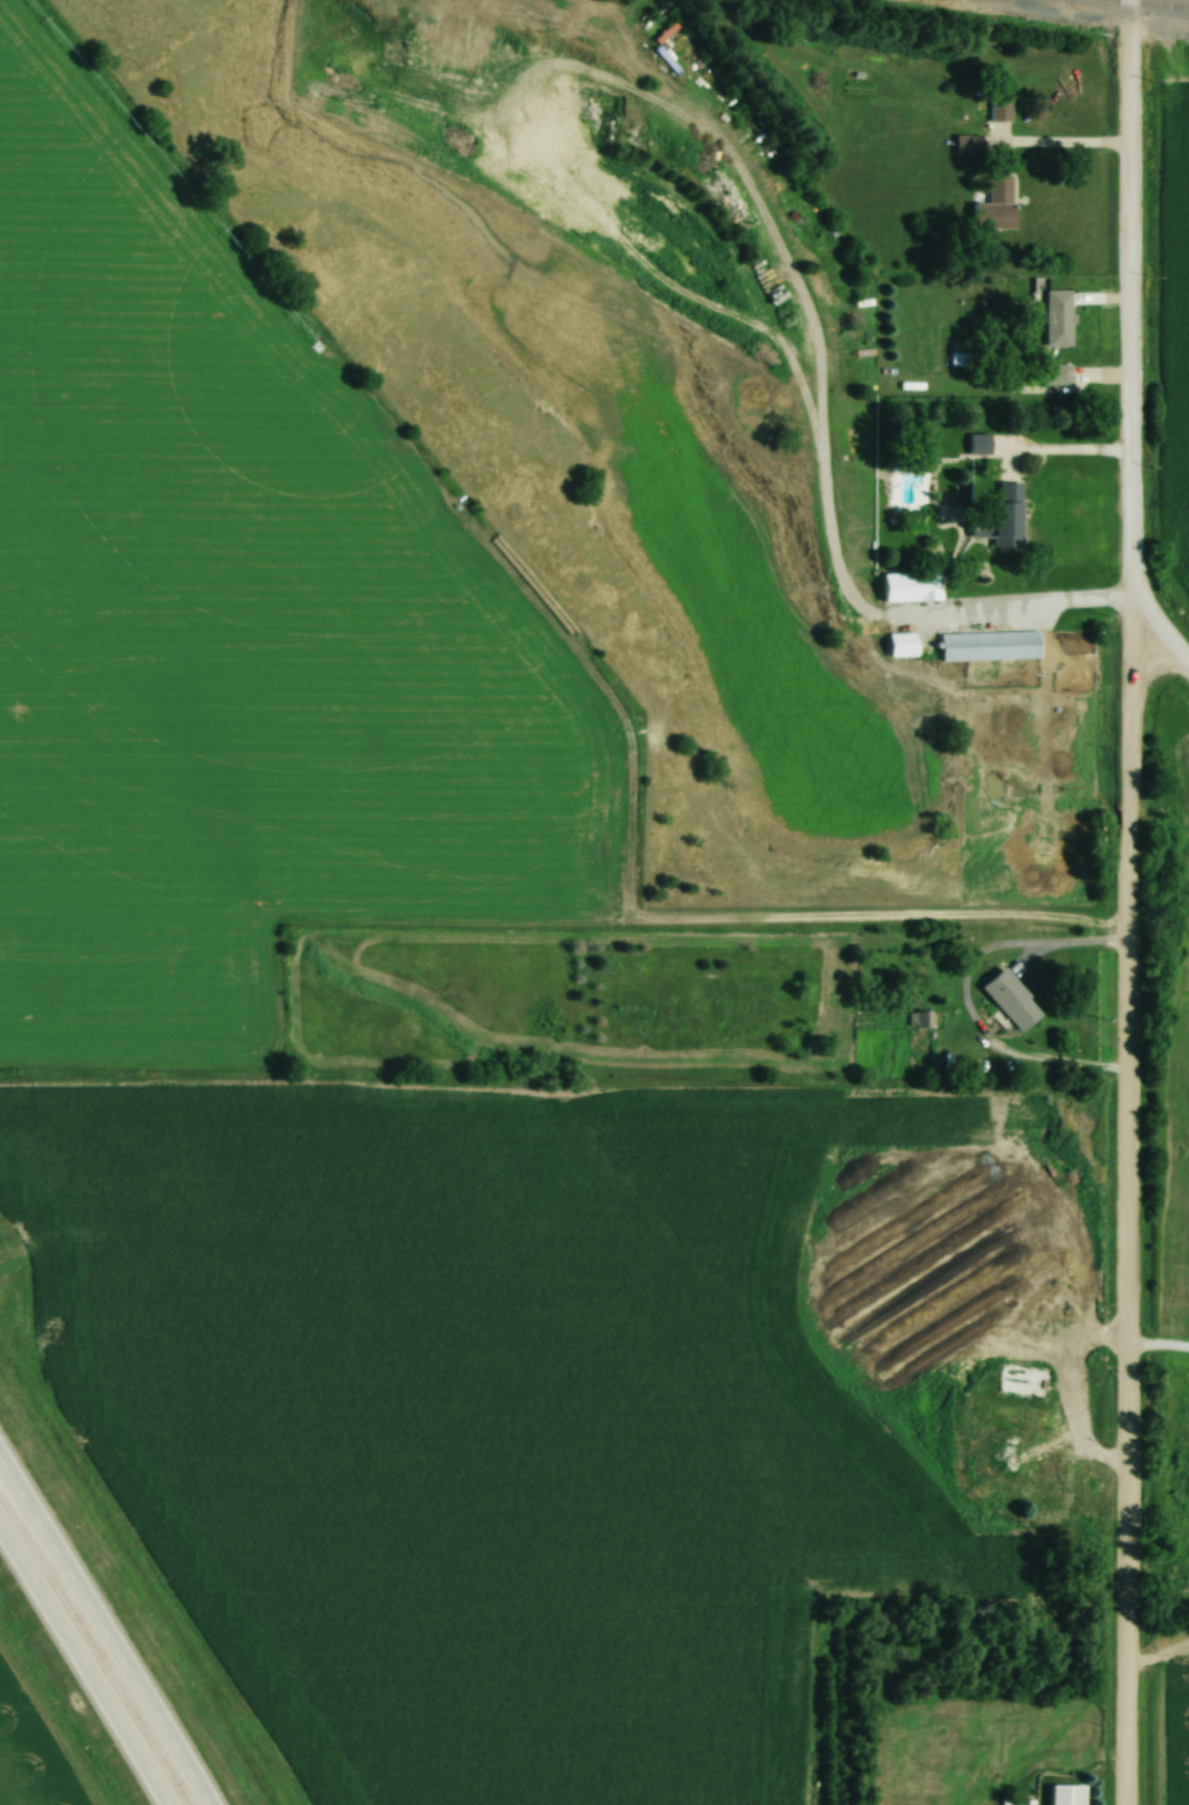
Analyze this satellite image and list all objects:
railway: (1160, 4)
building: (996, 108)
building: (965, 144)
building: (993, 205)
road: (785, 264)
building: (1055, 318)
crop: (1173, 320)
building: (1055, 373)
building: (977, 445)
road: (1052, 450)
building: (996, 509)
building: (904, 585)
road: (1004, 610)
crop: (231, 621)
road: (1159, 635)
building: (987, 643)
building: (899, 645)
road: (1122, 901)
road: (959, 996)
building: (1008, 1000)
building: (1022, 1381)
crop: (502, 1405)
building: (1046, 1426)
building: (1046, 1464)
road: (108, 1622)
road: (88, 1657)
crop: (1176, 1729)
building: (1064, 1794)

